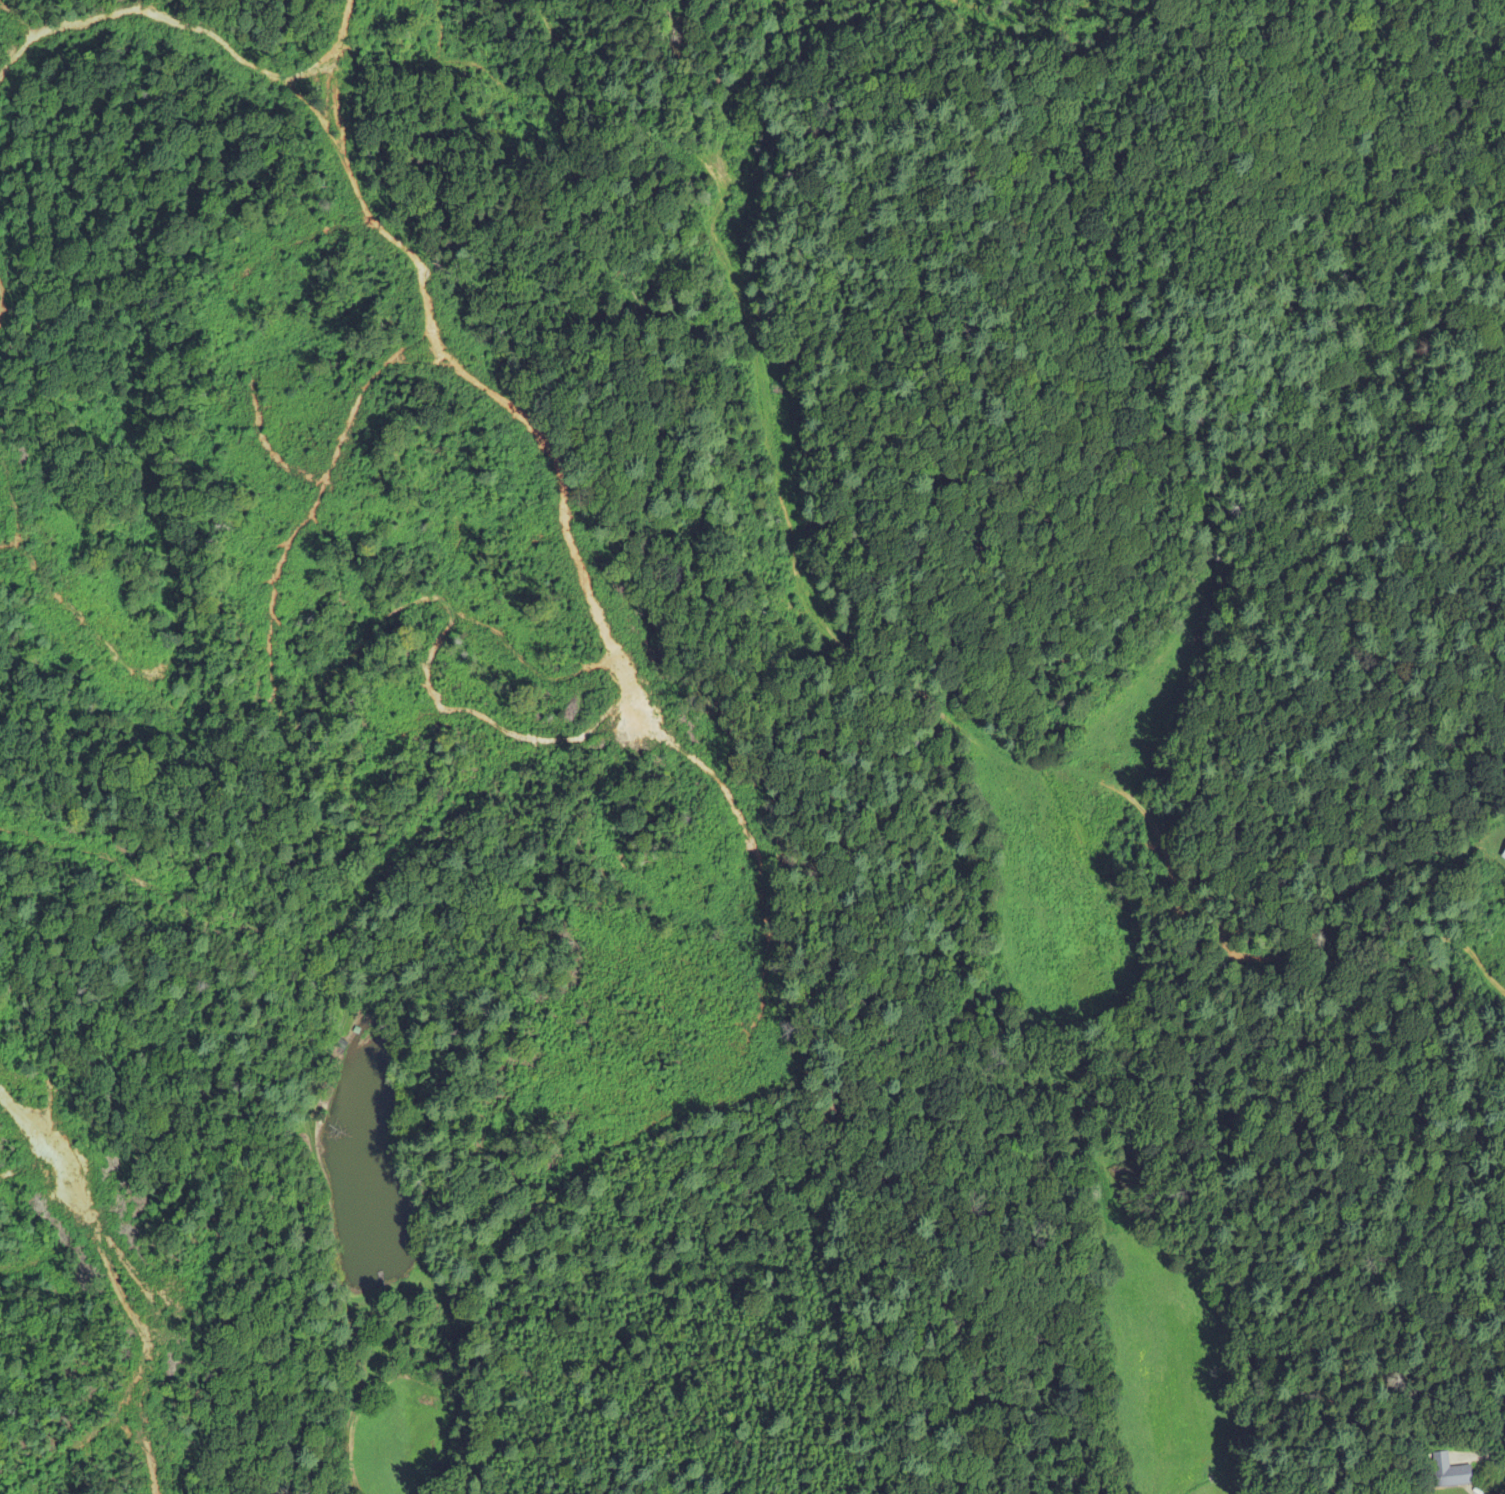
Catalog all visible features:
building: (1451, 1474)

